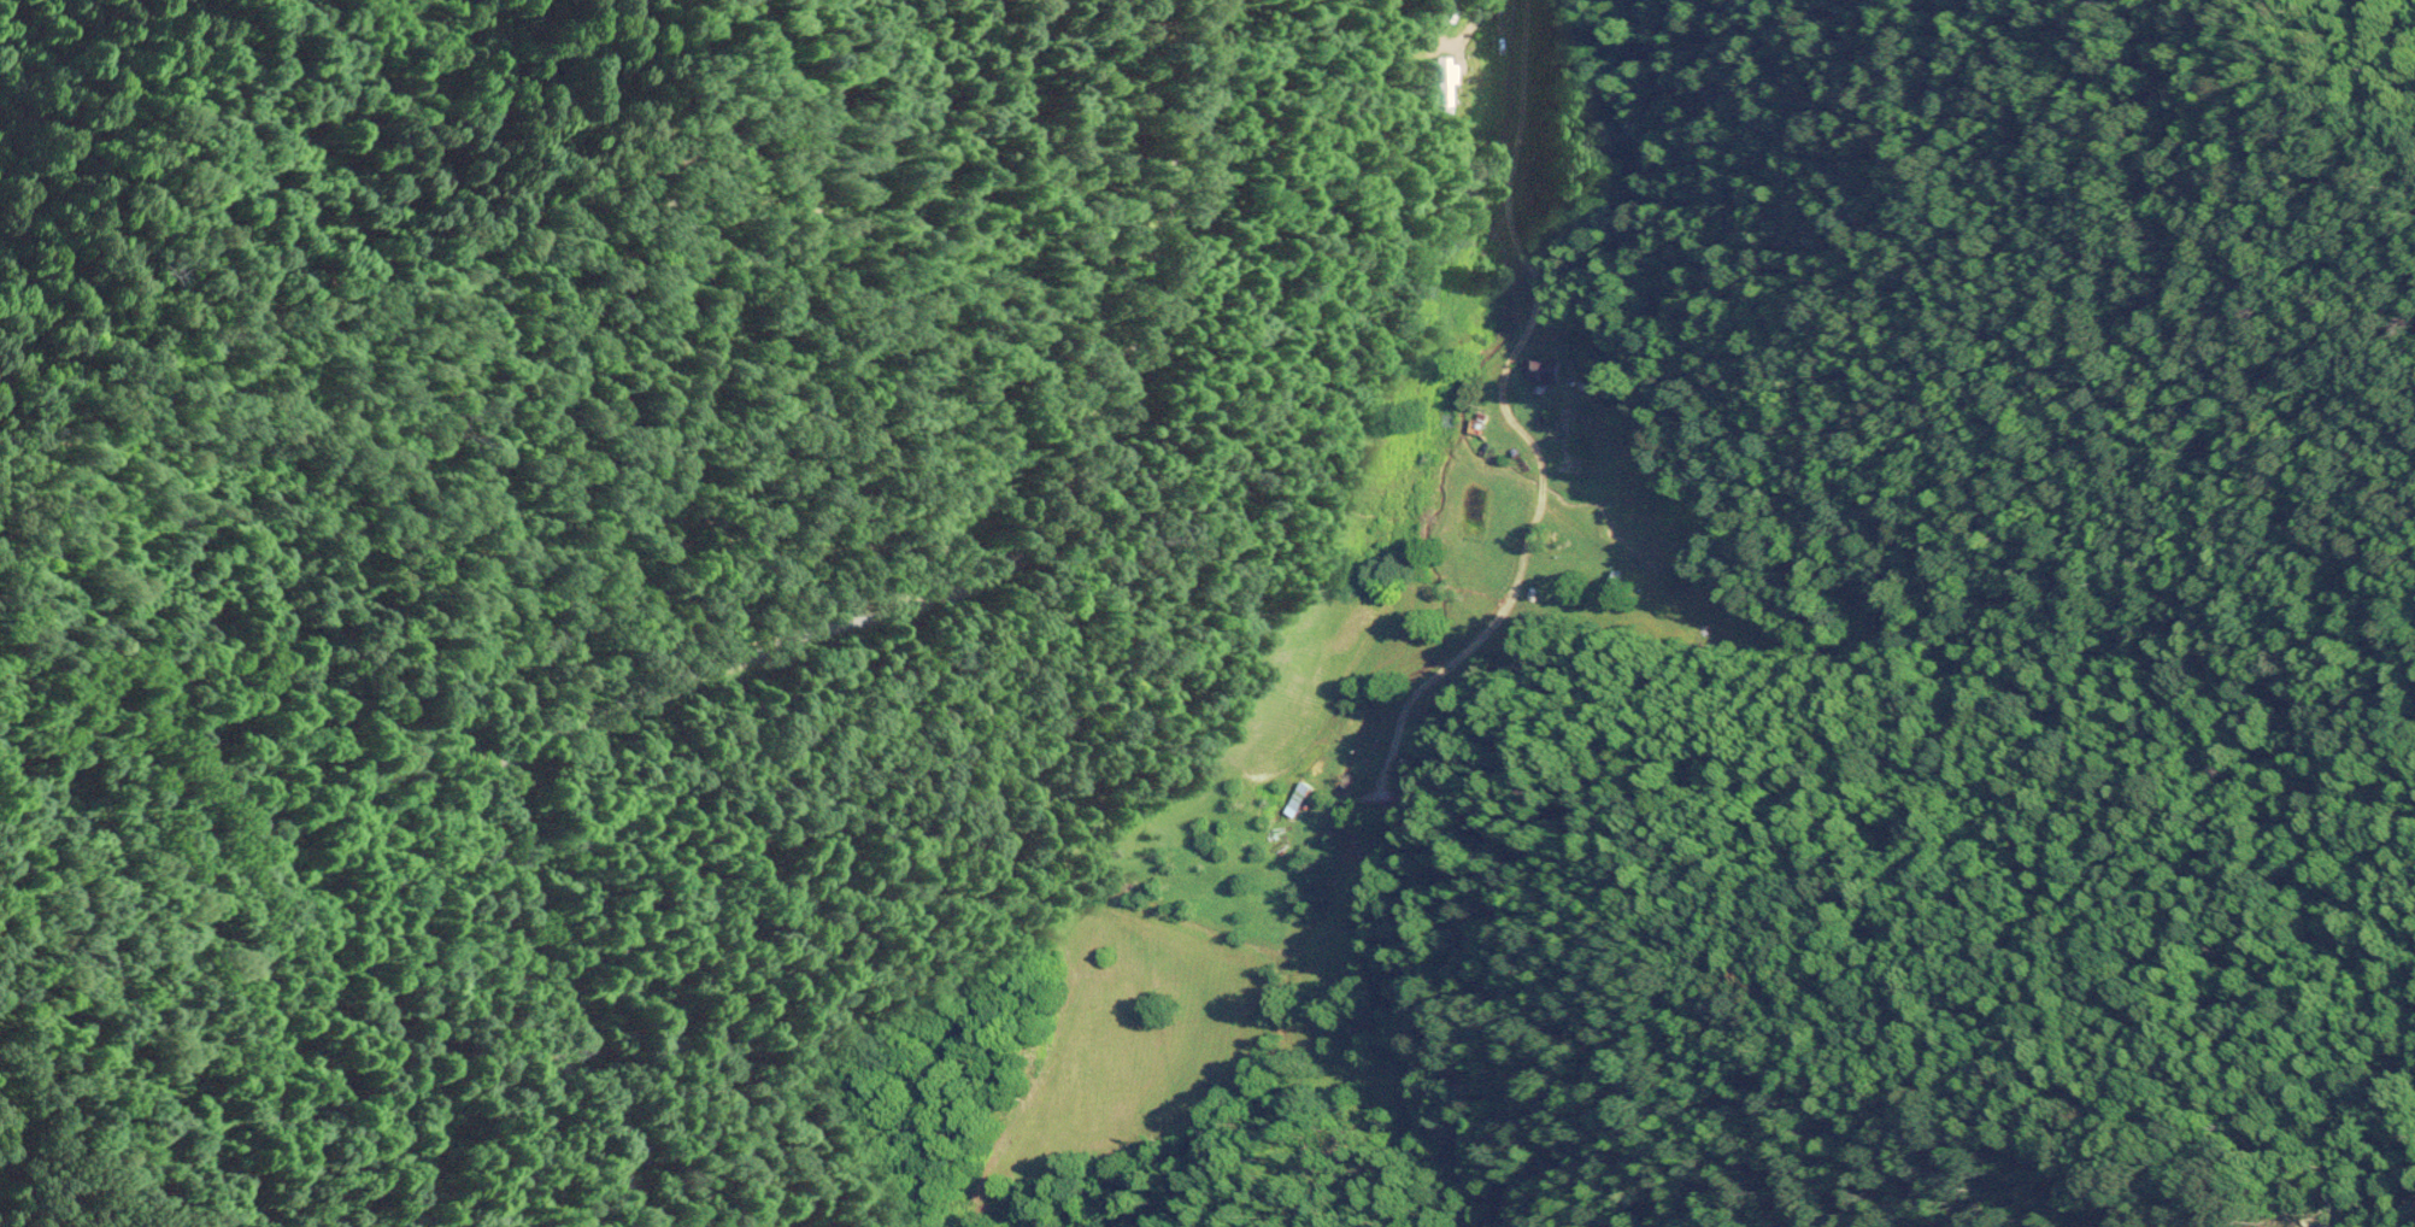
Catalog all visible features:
road: (1497, 342)
road: (785, 628)
building: (1298, 798)
building: (1403, 800)

